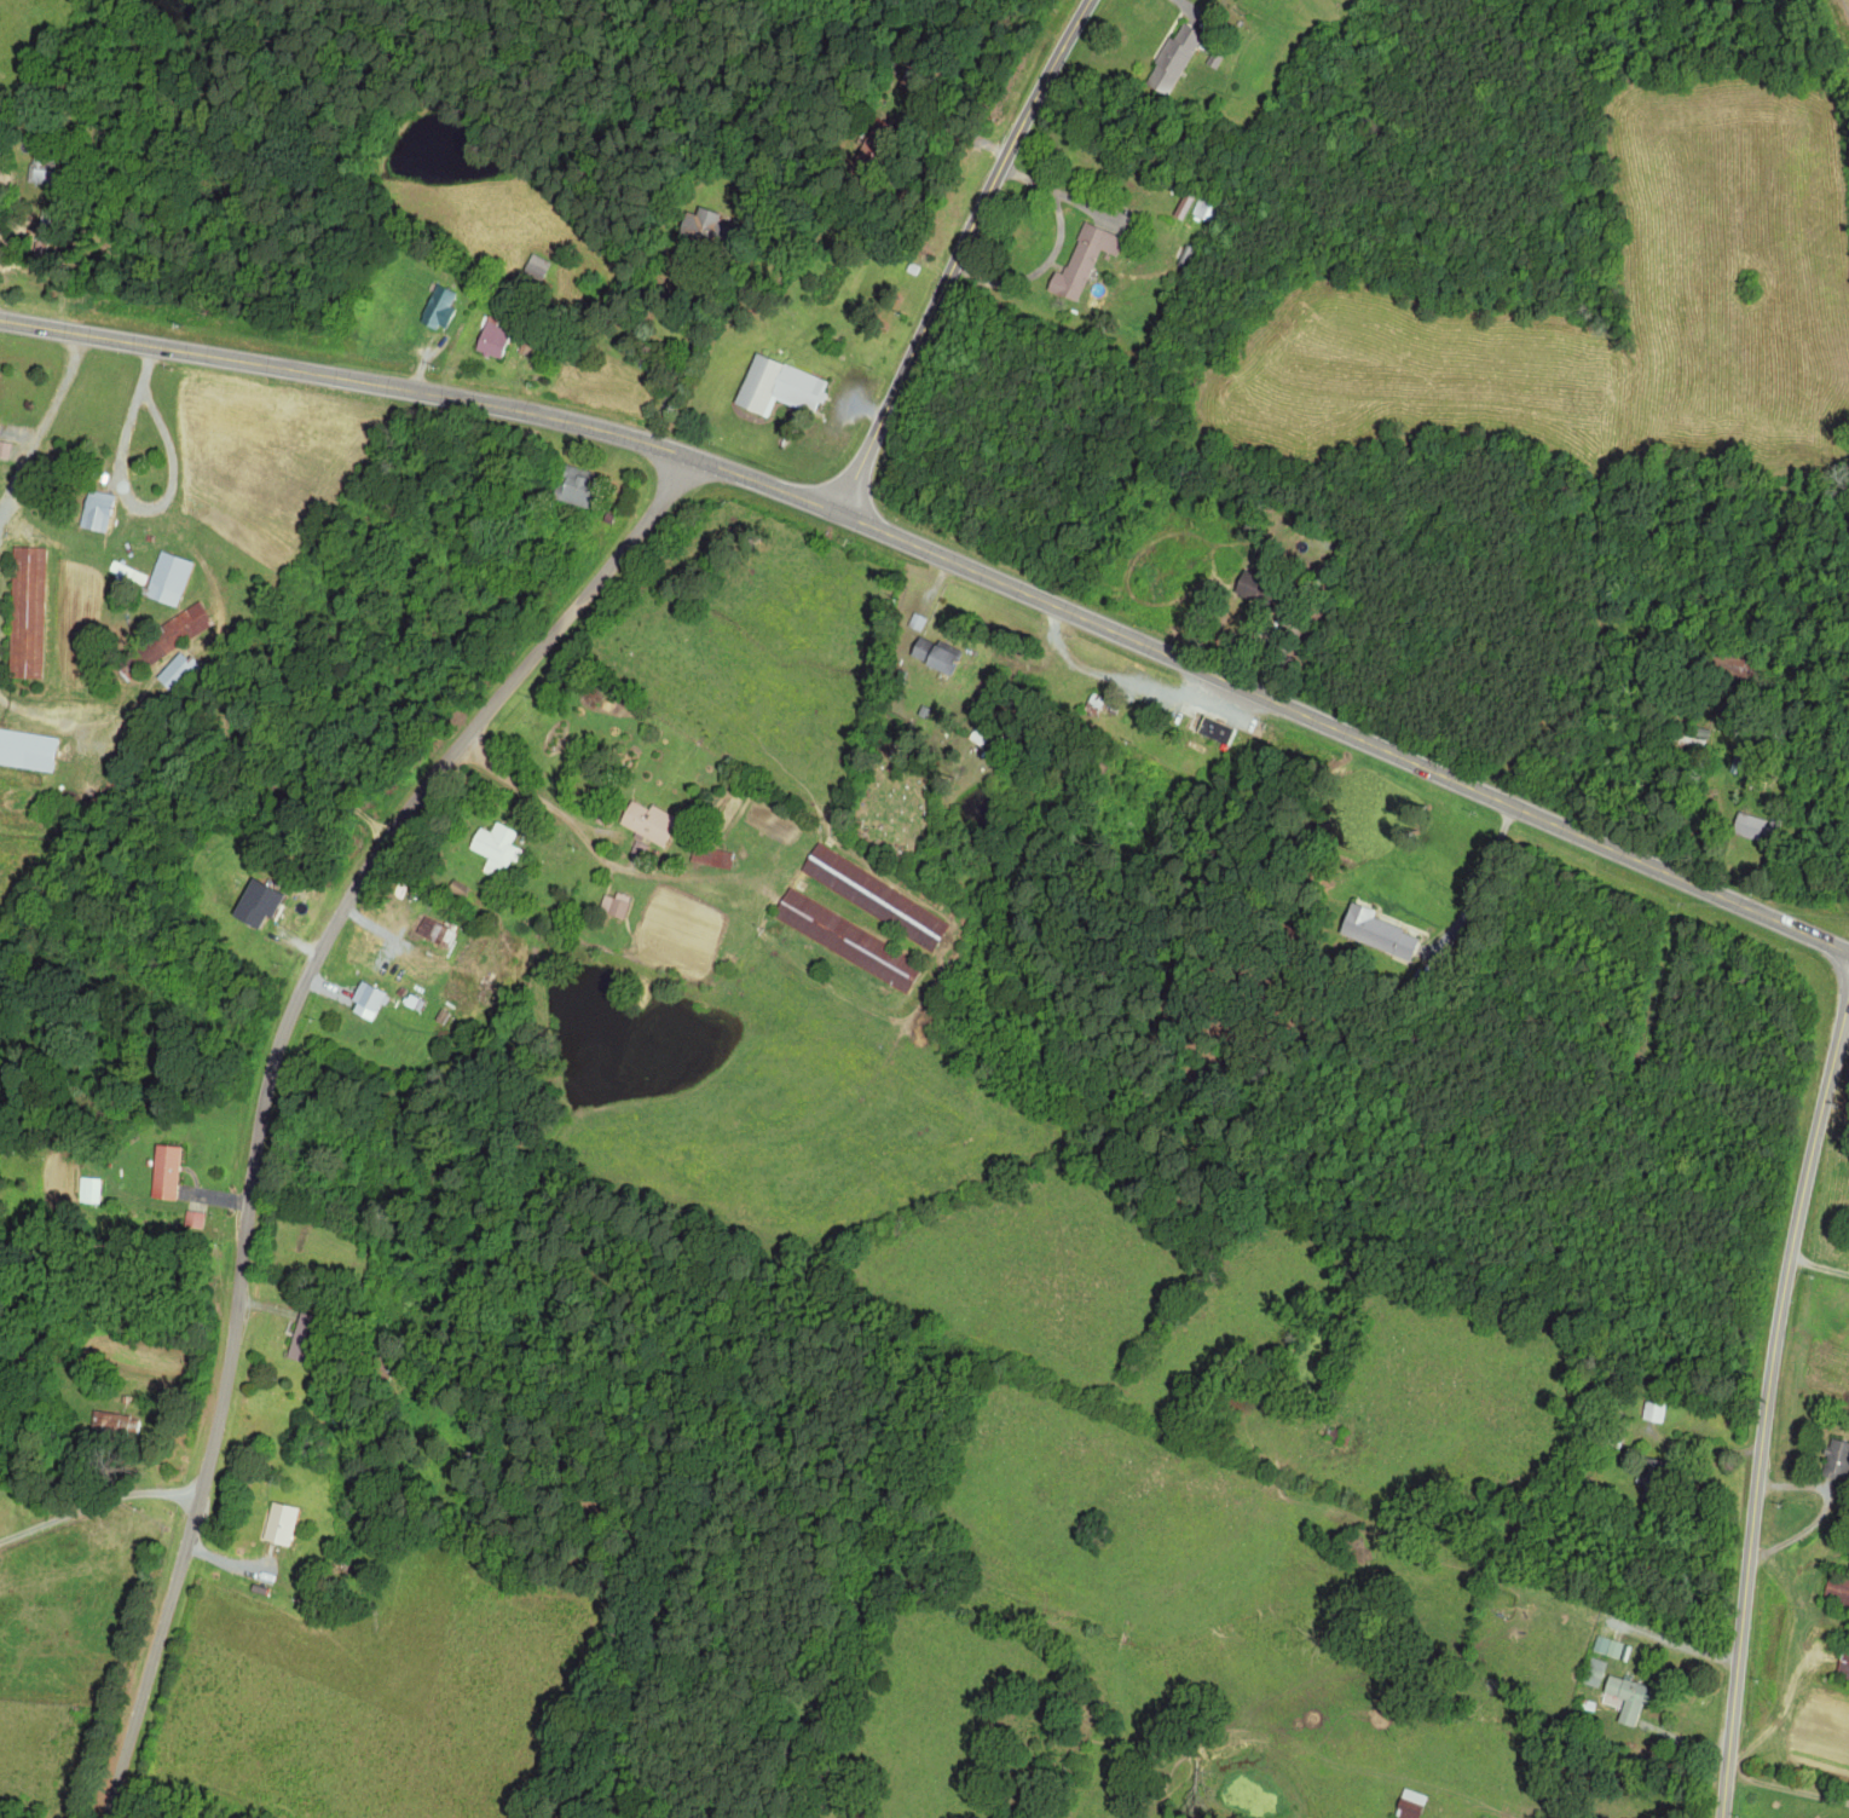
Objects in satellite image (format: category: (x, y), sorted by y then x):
solar farm: (1848, 2)
building: (1171, 58)
building: (697, 225)
road: (966, 259)
building: (1080, 260)
building: (536, 266)
building: (438, 306)
building: (489, 341)
building: (776, 386)
road: (429, 388)
building: (4, 449)
building: (570, 484)
building: (94, 509)
building: (167, 578)
building: (25, 612)
building: (168, 637)
building: (932, 656)
building: (174, 671)
building: (1210, 729)
road: (1346, 737)
building: (25, 749)
building: (645, 821)
building: (1746, 825)
building: (491, 848)
building: (710, 856)
building: (872, 896)
building: (254, 904)
building: (613, 905)
building: (433, 930)
building: (1375, 931)
building: (845, 940)
building: (366, 1000)
road: (281, 1083)
building: (163, 1172)
building: (91, 1189)
building: (192, 1219)
building: (1653, 1412)
road: (1768, 1421)
building: (112, 1424)
building: (1833, 1460)
road: (98, 1497)
building: (277, 1524)
building: (1836, 1591)
building: (1607, 1646)
building: (1594, 1672)
building: (1625, 1698)
building: (1408, 1802)

